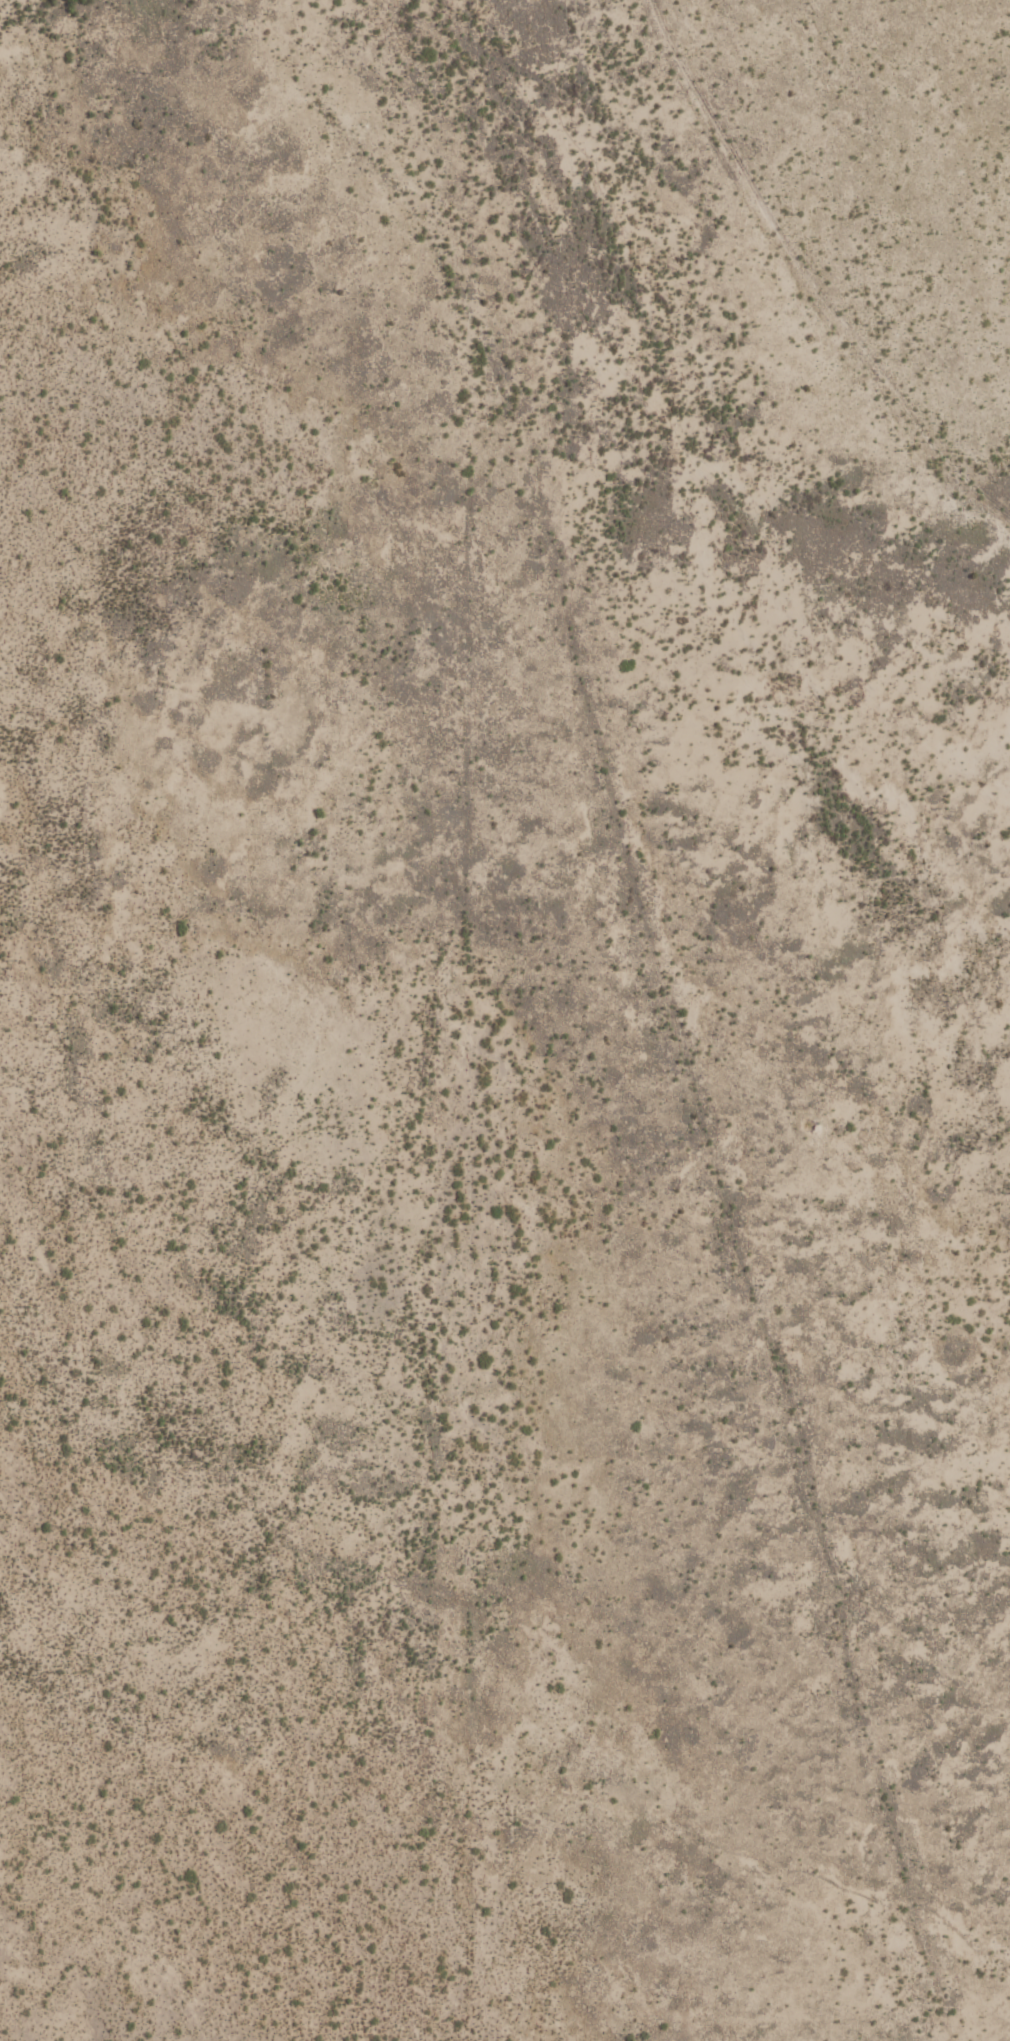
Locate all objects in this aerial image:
road: (792, 273)

